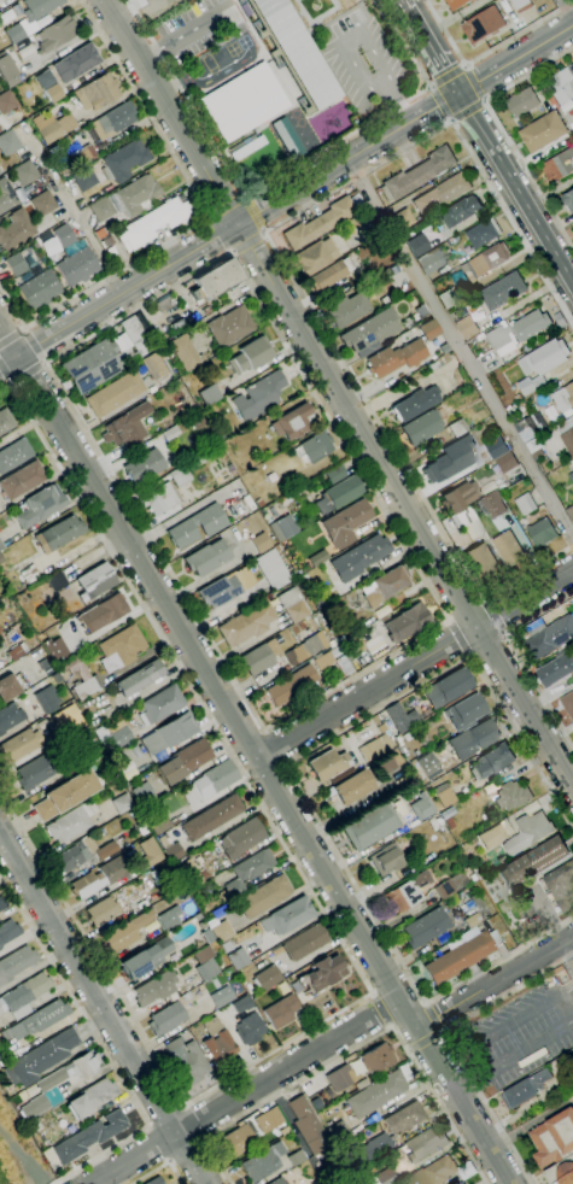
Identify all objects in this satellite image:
building: (443, 0)
building: (472, 0)
building: (456, 4)
building: (521, 5)
building: (40, 7)
road: (567, 8)
building: (6, 16)
building: (483, 24)
road: (236, 29)
building: (14, 33)
building: (57, 33)
road: (353, 39)
road: (434, 45)
road: (485, 52)
building: (291, 54)
road: (516, 58)
building: (76, 63)
road: (463, 66)
building: (7, 70)
road: (446, 77)
building: (45, 80)
road: (472, 83)
building: (561, 83)
road: (429, 86)
building: (97, 92)
traffic signals: (462, 92)
building: (54, 93)
building: (528, 99)
building: (6, 101)
building: (245, 101)
road: (483, 101)
road: (440, 102)
road: (394, 107)
road: (464, 109)
building: (112, 121)
road: (450, 121)
building: (4, 123)
building: (66, 123)
building: (0, 129)
building: (48, 129)
building: (0, 131)
road: (502, 131)
building: (542, 131)
road: (456, 133)
building: (286, 137)
building: (8, 142)
building: (83, 156)
building: (124, 160)
building: (559, 166)
building: (25, 172)
building: (416, 174)
road: (280, 175)
building: (84, 178)
road: (516, 186)
building: (442, 194)
building: (8, 195)
building: (136, 195)
road: (241, 197)
road: (245, 199)
building: (568, 200)
building: (43, 203)
road: (226, 206)
building: (101, 207)
building: (461, 211)
road: (253, 213)
road: (211, 216)
building: (402, 218)
road: (205, 221)
building: (153, 223)
building: (320, 223)
road: (230, 228)
building: (16, 229)
road: (264, 229)
road: (263, 234)
building: (481, 234)
building: (64, 235)
road: (90, 240)
building: (107, 241)
road: (247, 242)
building: (417, 245)
building: (25, 250)
road: (234, 251)
building: (315, 256)
building: (431, 260)
building: (486, 260)
building: (14, 263)
building: (77, 266)
building: (331, 272)
building: (215, 280)
building: (39, 288)
building: (502, 291)
building: (232, 293)
building: (446, 299)
building: (165, 304)
building: (473, 305)
building: (347, 309)
building: (205, 310)
building: (421, 310)
building: (194, 316)
building: (229, 326)
building: (466, 327)
building: (429, 329)
building: (519, 329)
building: (370, 333)
building: (136, 334)
road: (11, 335)
building: (162, 338)
building: (163, 342)
road: (36, 346)
road: (460, 348)
building: (186, 352)
building: (251, 354)
building: (125, 356)
building: (396, 358)
building: (540, 364)
building: (90, 365)
building: (153, 365)
building: (434, 365)
road: (6, 374)
road: (29, 374)
building: (152, 389)
building: (209, 394)
building: (116, 395)
building: (259, 395)
road: (339, 395)
building: (563, 399)
building: (414, 403)
building: (6, 421)
building: (293, 422)
building: (127, 427)
building: (421, 427)
building: (457, 427)
building: (527, 428)
building: (170, 433)
building: (567, 434)
building: (316, 446)
building: (536, 446)
building: (13, 455)
building: (450, 459)
road: (400, 462)
building: (507, 462)
building: (192, 465)
building: (144, 467)
building: (335, 474)
building: (571, 476)
building: (22, 480)
building: (339, 494)
building: (458, 497)
building: (159, 498)
building: (259, 503)
building: (493, 504)
building: (525, 504)
building: (40, 505)
building: (569, 512)
building: (345, 522)
building: (212, 526)
building: (283, 528)
building: (542, 532)
building: (58, 534)
building: (261, 543)
building: (1, 545)
building: (509, 550)
building: (207, 557)
building: (359, 557)
building: (483, 564)
building: (306, 567)
building: (273, 569)
building: (30, 574)
building: (305, 579)
building: (95, 580)
building: (57, 581)
building: (384, 586)
building: (226, 587)
building: (318, 602)
building: (293, 604)
road: (464, 610)
building: (103, 612)
road: (495, 617)
building: (405, 622)
building: (247, 623)
building: (0, 631)
road: (458, 638)
building: (550, 638)
building: (353, 644)
road: (487, 645)
building: (1, 646)
building: (309, 647)
building: (54, 649)
building: (121, 649)
building: (18, 651)
building: (334, 652)
building: (259, 656)
road: (466, 657)
road: (519, 657)
building: (321, 660)
road: (415, 664)
building: (556, 668)
building: (80, 678)
building: (139, 678)
road: (188, 682)
building: (291, 685)
building: (7, 687)
building: (448, 687)
building: (47, 698)
building: (86, 704)
building: (160, 704)
building: (567, 704)
building: (464, 711)
building: (10, 717)
building: (400, 717)
road: (264, 726)
road: (265, 729)
building: (113, 733)
building: (170, 733)
building: (408, 735)
building: (84, 738)
building: (473, 739)
building: (19, 745)
road: (275, 746)
building: (375, 748)
road: (255, 752)
building: (182, 761)
building: (491, 761)
building: (75, 763)
road: (285, 763)
building: (328, 764)
building: (384, 766)
building: (428, 766)
building: (34, 772)
building: (215, 779)
building: (352, 787)
building: (142, 793)
building: (66, 795)
building: (444, 795)
building: (511, 796)
building: (122, 803)
building: (420, 807)
building: (211, 817)
building: (157, 821)
building: (434, 821)
building: (71, 822)
building: (450, 823)
building: (370, 826)
building: (528, 830)
building: (492, 836)
building: (241, 838)
building: (150, 851)
building: (173, 852)
building: (83, 854)
building: (386, 858)
building: (497, 861)
building: (533, 863)
building: (249, 871)
building: (476, 872)
building: (188, 874)
building: (99, 877)
building: (472, 877)
building: (450, 885)
building: (560, 887)
building: (407, 892)
building: (264, 896)
building: (2, 903)
building: (468, 905)
building: (103, 912)
building: (475, 912)
building: (198, 916)
building: (287, 916)
building: (425, 928)
building: (124, 931)
building: (222, 931)
building: (8, 932)
building: (304, 942)
road: (92, 946)
building: (462, 954)
road: (566, 954)
road: (398, 957)
building: (145, 959)
building: (238, 959)
building: (16, 963)
building: (205, 963)
building: (322, 973)
building: (267, 978)
road: (493, 980)
building: (156, 989)
building: (25, 995)
road: (374, 995)
road: (507, 995)
building: (222, 997)
road: (74, 1001)
road: (426, 1003)
building: (241, 1004)
building: (0, 1010)
road: (103, 1010)
building: (281, 1010)
road: (382, 1010)
road: (526, 1014)
building: (45, 1016)
road: (432, 1016)
building: (166, 1018)
road: (392, 1025)
building: (250, 1028)
road: (440, 1030)
road: (440, 1032)
park: (530, 1032)
building: (7, 1034)
road: (425, 1042)
building: (218, 1043)
road: (532, 1044)
road: (279, 1048)
road: (355, 1049)
road: (409, 1050)
building: (41, 1057)
building: (376, 1057)
building: (187, 1061)
building: (555, 1065)
building: (71, 1071)
building: (340, 1078)
building: (571, 1078)
building: (361, 1083)
building: (525, 1089)
road: (245, 1091)
building: (375, 1094)
building: (93, 1097)
building: (41, 1103)
road: (486, 1108)
road: (165, 1113)
building: (404, 1118)
building: (269, 1119)
road: (194, 1121)
building: (308, 1126)
building: (339, 1130)
building: (89, 1136)
building: (554, 1138)
building: (236, 1139)
building: (425, 1143)
building: (379, 1144)
road: (157, 1145)
road: (185, 1150)
road: (100, 1155)
road: (22, 1156)
building: (296, 1157)
building: (357, 1157)
building: (263, 1162)
road: (159, 1166)
building: (434, 1172)
building: (561, 1172)
building: (382, 1177)
building: (154, 1180)
building: (277, 1182)
building: (315, 1183)
building: (456, 1183)
building: (462, 1183)

